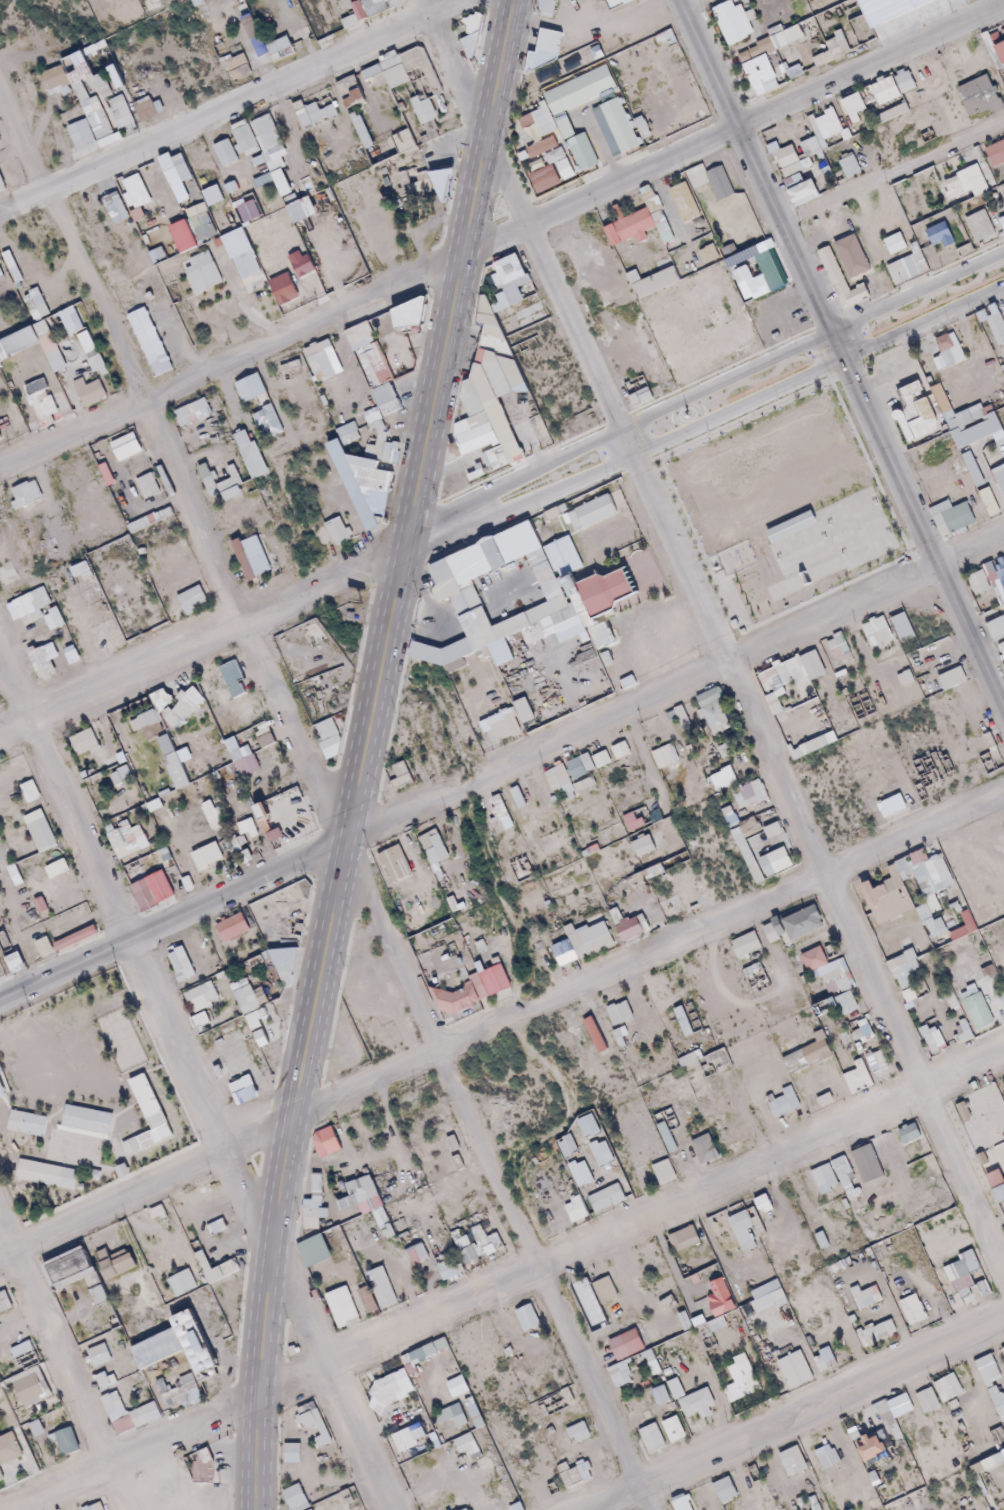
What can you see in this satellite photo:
road: (734, 126)
road: (704, 389)
road: (704, 422)
park: (785, 507)
road: (670, 686)
road: (648, 956)
road: (630, 1229)

